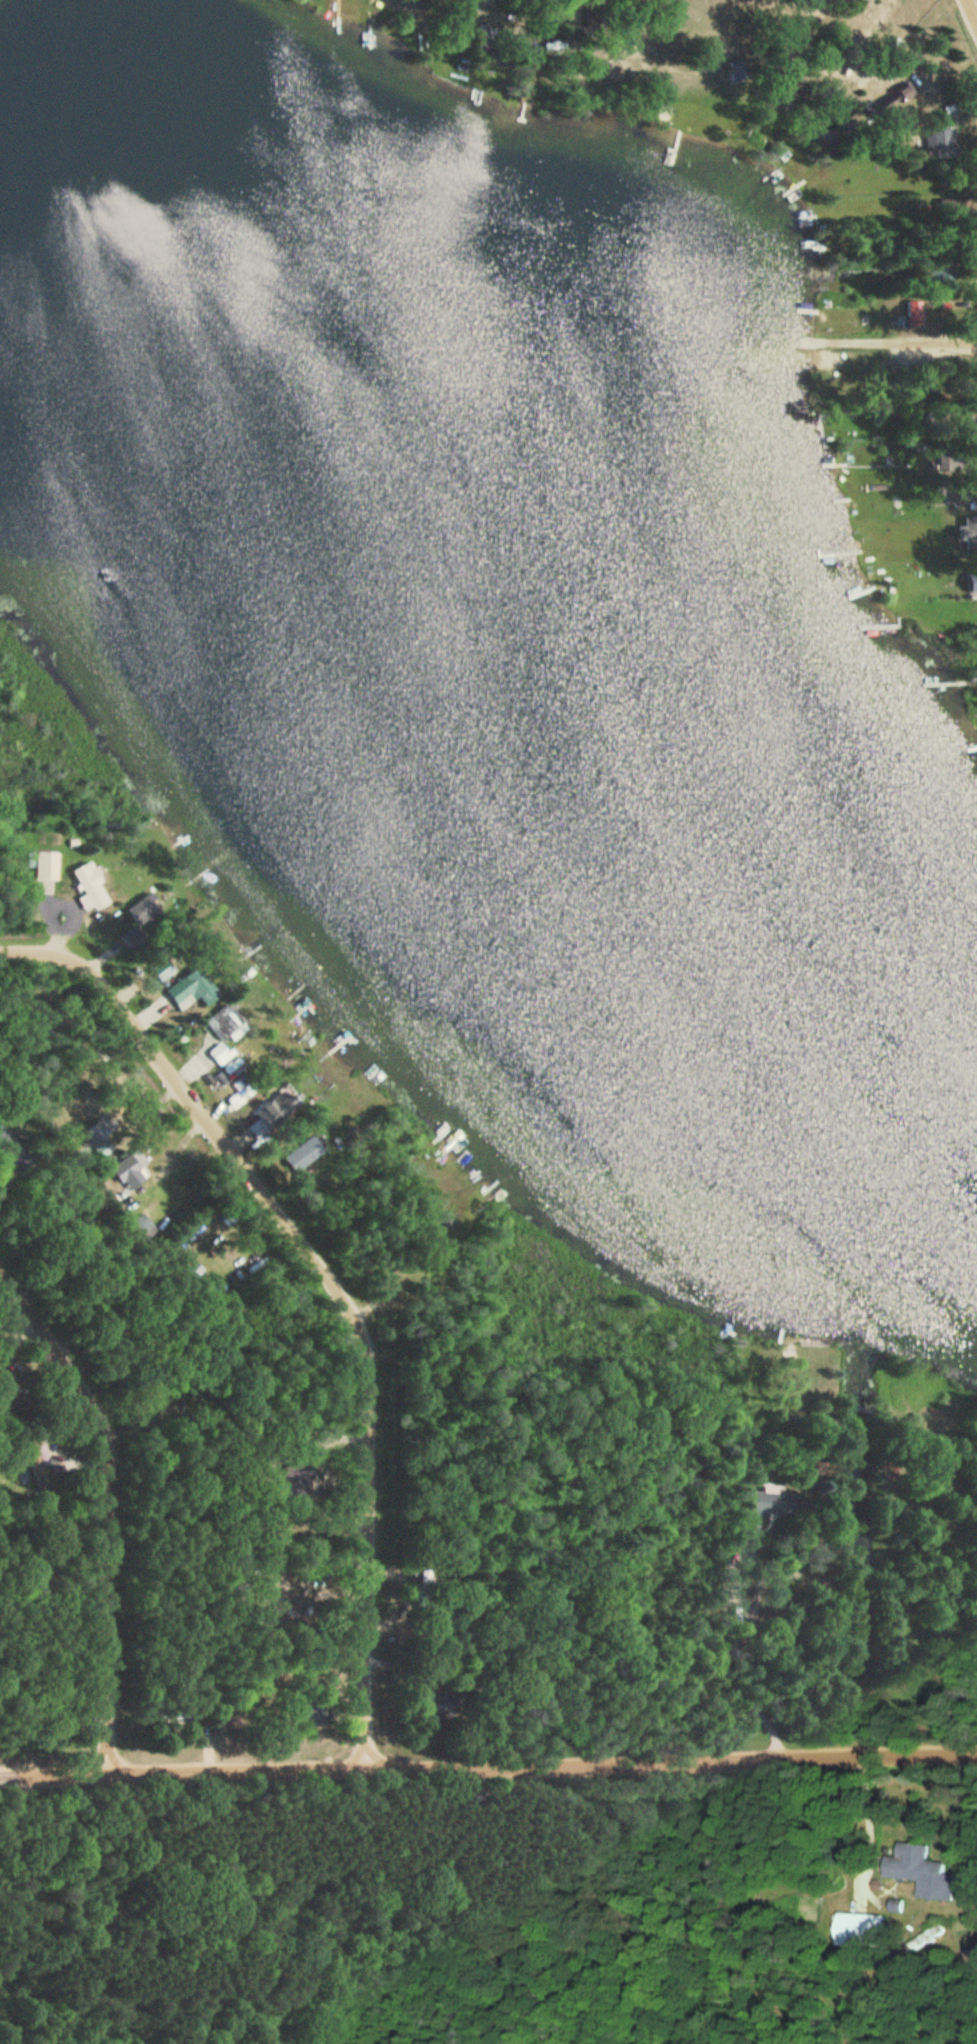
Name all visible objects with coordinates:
road: (972, 9)
building: (938, 139)
road: (895, 343)
building: (973, 504)
building: (969, 534)
building: (971, 581)
building: (47, 866)
building: (91, 888)
building: (144, 911)
building: (193, 989)
building: (226, 1024)
building: (219, 1053)
building: (273, 1114)
building: (105, 1149)
building: (305, 1154)
building: (131, 1171)
building: (144, 1227)
road: (337, 1281)
road: (113, 1500)
building: (762, 1508)
building: (423, 1579)
road: (750, 1651)
road: (488, 1764)
road: (870, 1827)
building: (924, 1871)
road: (705, 1903)
building: (863, 1929)

